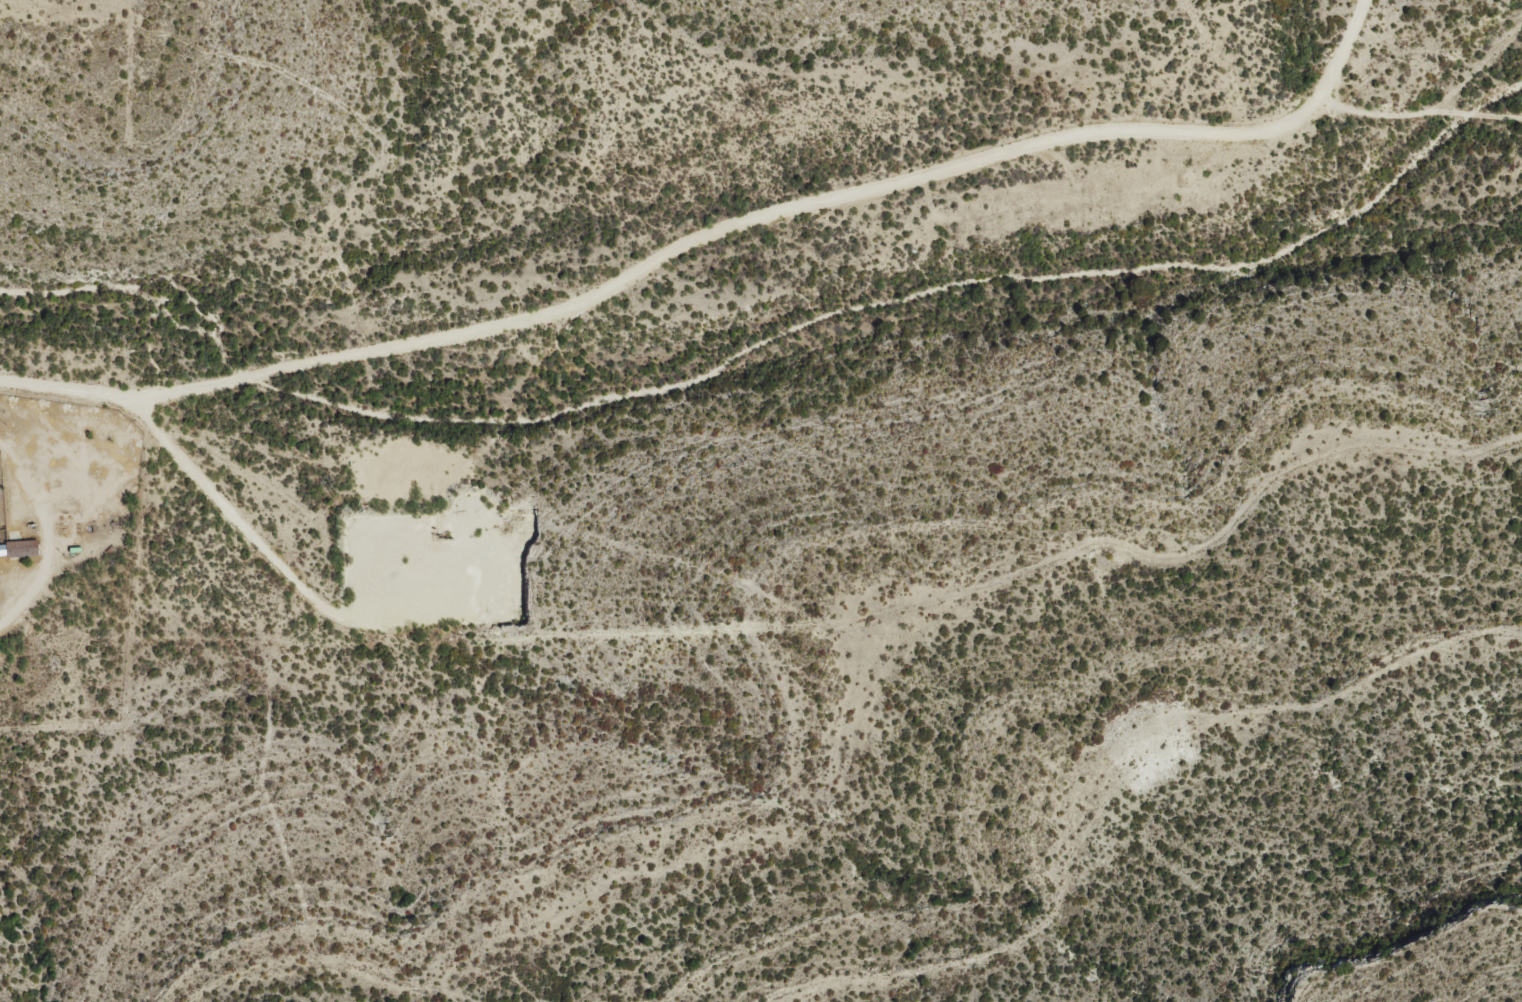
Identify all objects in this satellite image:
road: (1413, 54)
road: (763, 231)
building: (23, 549)

